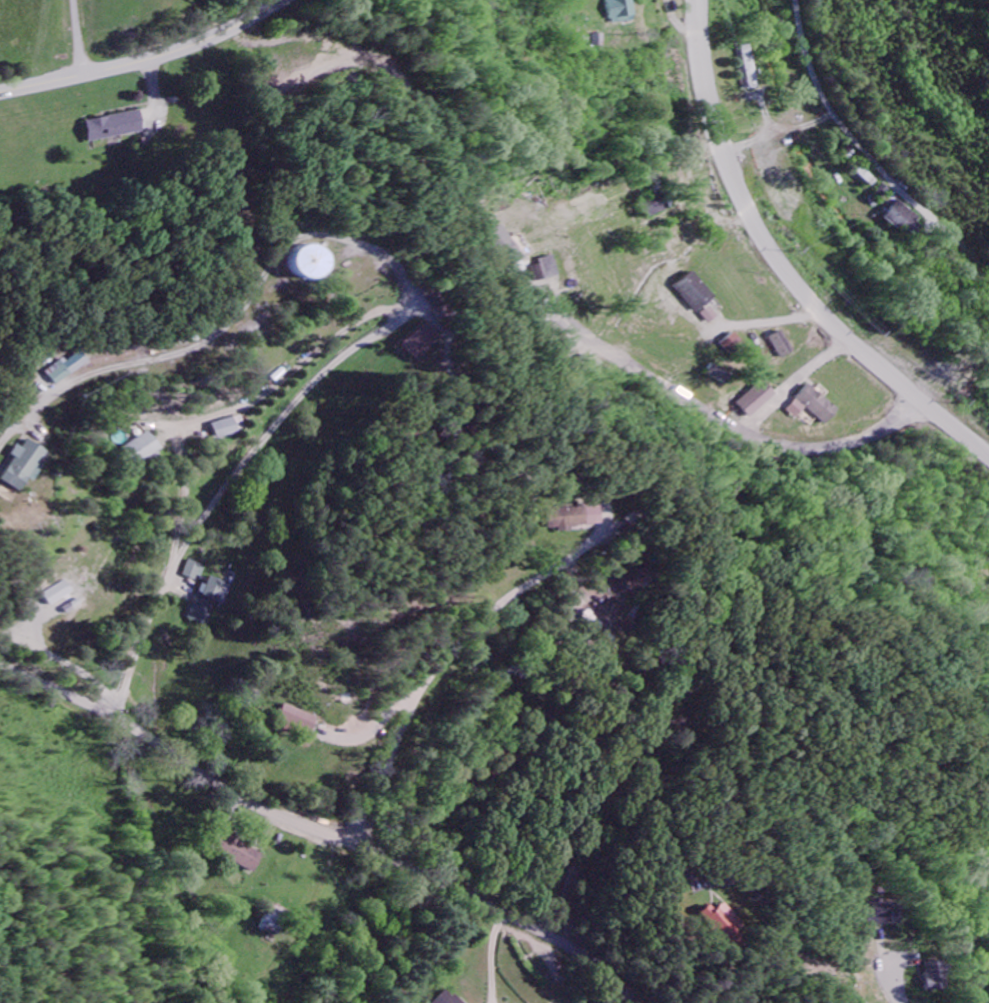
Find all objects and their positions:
building: (620, 11)
road: (78, 37)
building: (596, 41)
road: (147, 58)
building: (748, 68)
road: (152, 98)
road: (841, 123)
building: (111, 124)
building: (863, 178)
building: (902, 219)
building: (315, 262)
road: (781, 265)
building: (696, 293)
road: (405, 304)
building: (436, 305)
building: (710, 316)
building: (422, 342)
building: (733, 344)
building: (782, 345)
building: (72, 368)
building: (719, 375)
road: (794, 382)
road: (267, 385)
building: (758, 399)
building: (816, 406)
road: (723, 419)
building: (221, 428)
building: (137, 449)
building: (28, 466)
road: (179, 494)
building: (564, 519)
building: (192, 572)
building: (626, 580)
building: (49, 594)
building: (208, 602)
road: (443, 654)
building: (290, 718)
road: (314, 834)
road: (587, 834)
road: (835, 850)
building: (235, 853)
building: (883, 914)
building: (732, 926)
road: (16, 960)
building: (929, 977)
building: (439, 999)

